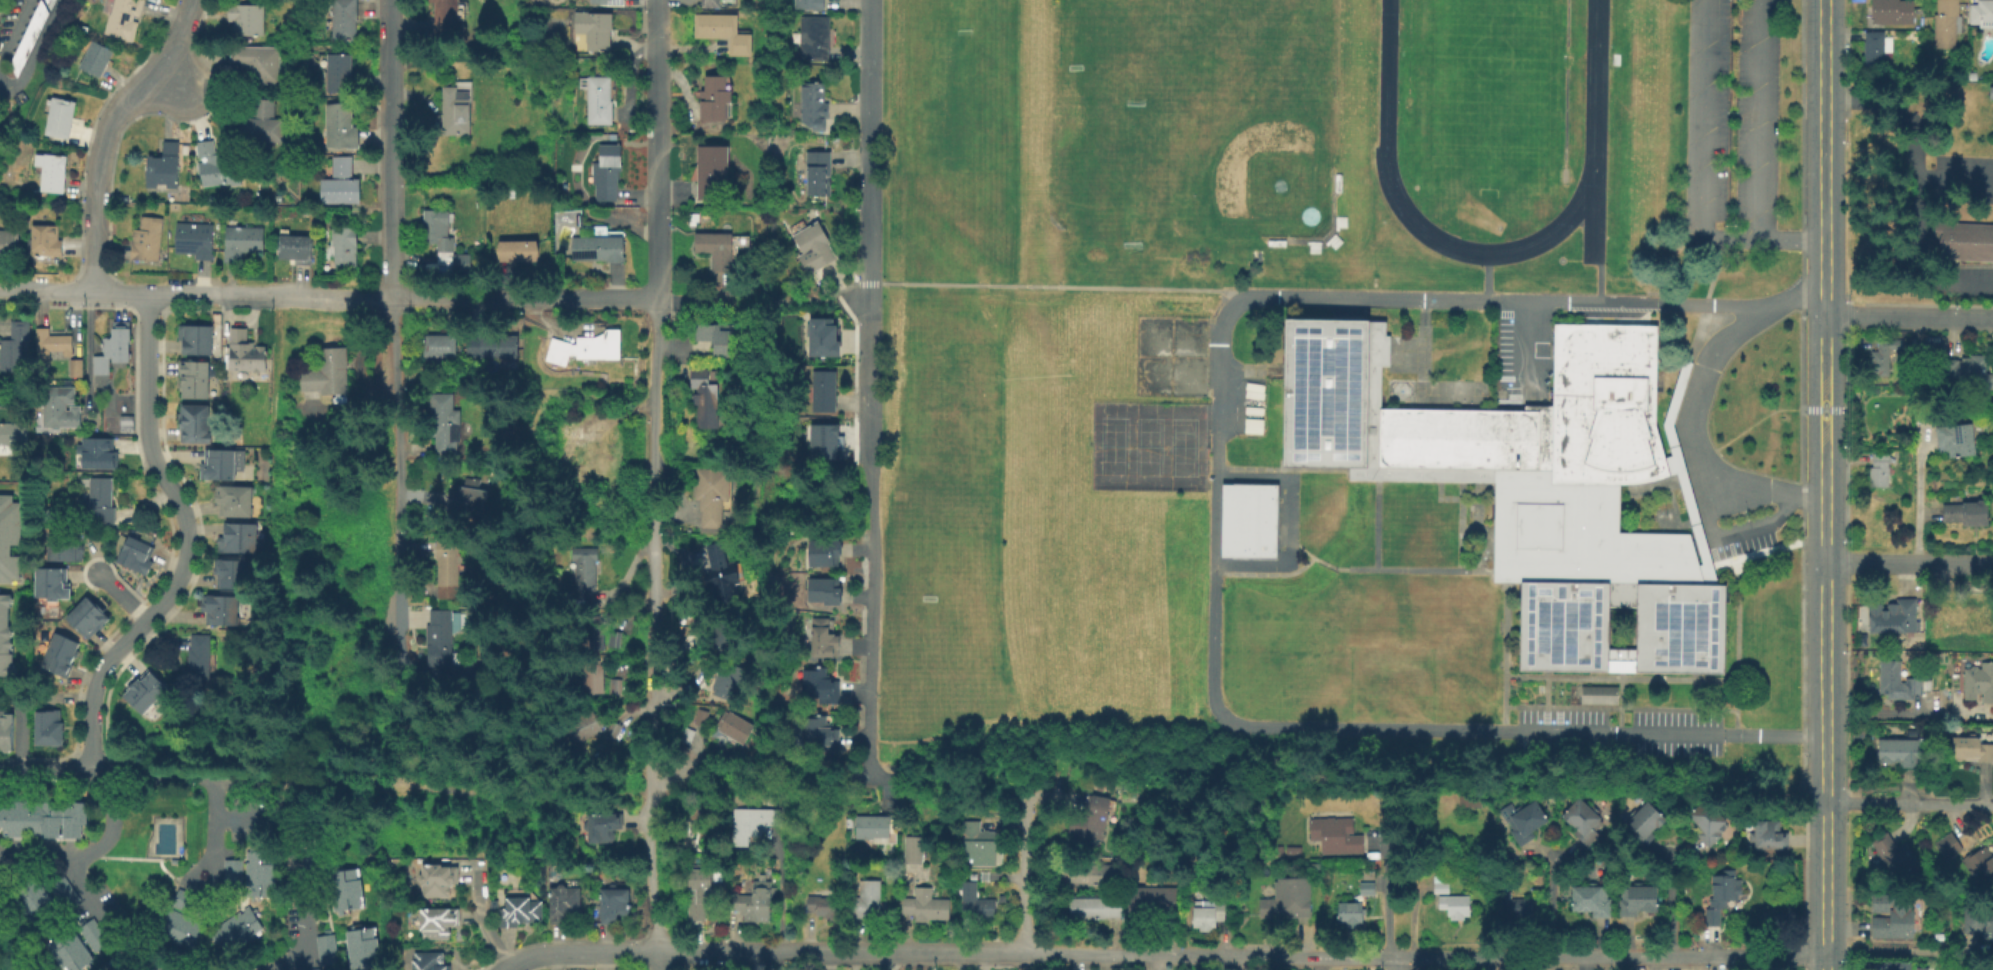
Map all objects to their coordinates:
building: (48, 2)
building: (607, 2)
building: (712, 4)
building: (810, 5)
building: (444, 11)
building: (1893, 12)
building: (1983, 14)
building: (119, 17)
building: (244, 17)
building: (345, 21)
building: (1948, 24)
road: (13, 26)
building: (595, 31)
building: (724, 32)
building: (26, 35)
building: (815, 39)
building: (1878, 48)
road: (34, 49)
building: (94, 58)
building: (253, 63)
building: (340, 74)
building: (1973, 76)
road: (171, 80)
park: (1491, 92)
building: (715, 100)
building: (599, 101)
park: (953, 106)
building: (815, 107)
building: (456, 108)
building: (57, 116)
track: (1488, 117)
park: (1187, 118)
road: (1754, 119)
building: (261, 122)
building: (341, 127)
road: (104, 131)
road: (870, 142)
road: (1698, 147)
road: (1821, 147)
building: (215, 164)
building: (161, 165)
building: (50, 170)
building: (711, 172)
building: (605, 174)
building: (819, 174)
road: (1954, 176)
building: (341, 184)
road: (1915, 186)
building: (214, 200)
track: (1590, 211)
building: (437, 231)
building: (144, 237)
building: (191, 238)
building: (43, 239)
road: (1787, 239)
building: (1965, 241)
building: (8, 242)
building: (243, 244)
building: (345, 248)
building: (296, 250)
building: (599, 250)
building: (812, 251)
building: (715, 252)
building: (517, 254)
building: (463, 264)
road: (659, 268)
road: (862, 284)
road: (876, 284)
road: (940, 285)
road: (1002, 286)
road: (17, 289)
road: (844, 289)
road: (1150, 289)
road: (126, 291)
road: (303, 296)
road: (558, 300)
road: (1531, 303)
road: (1821, 305)
road: (1907, 317)
building: (820, 336)
road: (870, 336)
building: (193, 338)
road: (391, 339)
building: (717, 340)
building: (50, 341)
building: (12, 344)
road: (87, 344)
building: (111, 346)
building: (440, 349)
building: (587, 349)
road: (1528, 349)
building: (496, 350)
building: (246, 354)
park: (1172, 357)
building: (1884, 357)
building: (73, 366)
building: (1971, 371)
building: (329, 375)
building: (191, 377)
building: (716, 380)
building: (824, 394)
building: (706, 401)
building: (58, 406)
park: (950, 410)
building: (124, 422)
building: (192, 423)
building: (446, 426)
building: (12, 432)
road: (1690, 433)
road: (1822, 438)
building: (1958, 442)
building: (827, 447)
park: (1149, 447)
building: (95, 452)
building: (582, 455)
building: (219, 463)
building: (1880, 471)
building: (1530, 486)
building: (475, 491)
building: (713, 497)
building: (231, 499)
road: (1917, 500)
building: (97, 501)
building: (1968, 515)
building: (1252, 523)
building: (9, 536)
road: (1728, 536)
building: (235, 537)
road: (187, 542)
building: (61, 546)
building: (133, 554)
building: (824, 559)
road: (1907, 562)
building: (451, 570)
building: (228, 572)
building: (587, 574)
building: (720, 576)
road: (869, 581)
building: (49, 582)
building: (826, 596)
road: (124, 598)
building: (217, 608)
building: (85, 615)
building: (1894, 618)
building: (1957, 619)
building: (594, 631)
building: (5, 636)
building: (719, 639)
building: (444, 640)
building: (824, 640)
building: (57, 653)
building: (197, 653)
building: (593, 680)
building: (728, 682)
building: (1902, 682)
building: (1979, 683)
building: (820, 687)
building: (617, 689)
building: (143, 691)
building: (1601, 696)
road: (1879, 714)
building: (703, 719)
road: (20, 720)
building: (46, 726)
building: (582, 728)
road: (1307, 728)
building: (5, 729)
building: (735, 729)
building: (613, 734)
building: (689, 736)
building: (821, 736)
road: (658, 745)
road: (1054, 748)
building: (1971, 750)
building: (1901, 754)
road: (1822, 765)
road: (1027, 768)
road: (516, 771)
road: (46, 772)
road: (100, 773)
road: (162, 776)
road: (355, 780)
road: (912, 780)
building: (1472, 803)
road: (1908, 803)
building: (1094, 817)
building: (41, 820)
building: (1582, 820)
building: (850, 821)
building: (1526, 822)
building: (1647, 822)
building: (1710, 822)
building: (754, 823)
building: (603, 826)
building: (874, 827)
building: (1334, 834)
building: (1771, 835)
building: (974, 844)
building: (1949, 847)
building: (913, 849)
road: (88, 851)
road: (298, 855)
building: (1897, 855)
building: (995, 856)
building: (1981, 863)
road: (1024, 870)
building: (230, 871)
building: (257, 871)
building: (342, 873)
building: (1097, 873)
road: (1397, 879)
building: (437, 883)
building: (344, 884)
building: (1368, 884)
building: (1442, 885)
building: (24, 889)
building: (62, 891)
building: (701, 891)
building: (345, 894)
building: (1723, 894)
building: (30, 898)
building: (1287, 899)
building: (1593, 899)
building: (1639, 899)
building: (867, 900)
building: (1153, 900)
building: (757, 902)
building: (975, 903)
building: (346, 904)
building: (926, 905)
building: (1521, 905)
building: (34, 906)
building: (564, 906)
building: (614, 906)
road: (1674, 906)
building: (825, 907)
building: (1456, 907)
road: (1553, 907)
building: (1095, 908)
building: (42, 914)
building: (520, 914)
building: (1893, 915)
building: (1208, 916)
building: (1353, 917)
building: (1979, 919)
road: (107, 922)
building: (438, 923)
building: (179, 927)
building: (235, 929)
building: (358, 932)
building: (92, 935)
building: (60, 938)
building: (1939, 938)
building: (360, 943)
building: (65, 947)
building: (326, 948)
road: (1894, 949)
building: (362, 952)
road: (582, 954)
building: (70, 955)
road: (1239, 955)
road: (656, 961)
building: (78, 962)
building: (364, 962)
building: (429, 962)
road: (1024, 962)
building: (1886, 966)
building: (1923, 968)
building: (315, 969)

